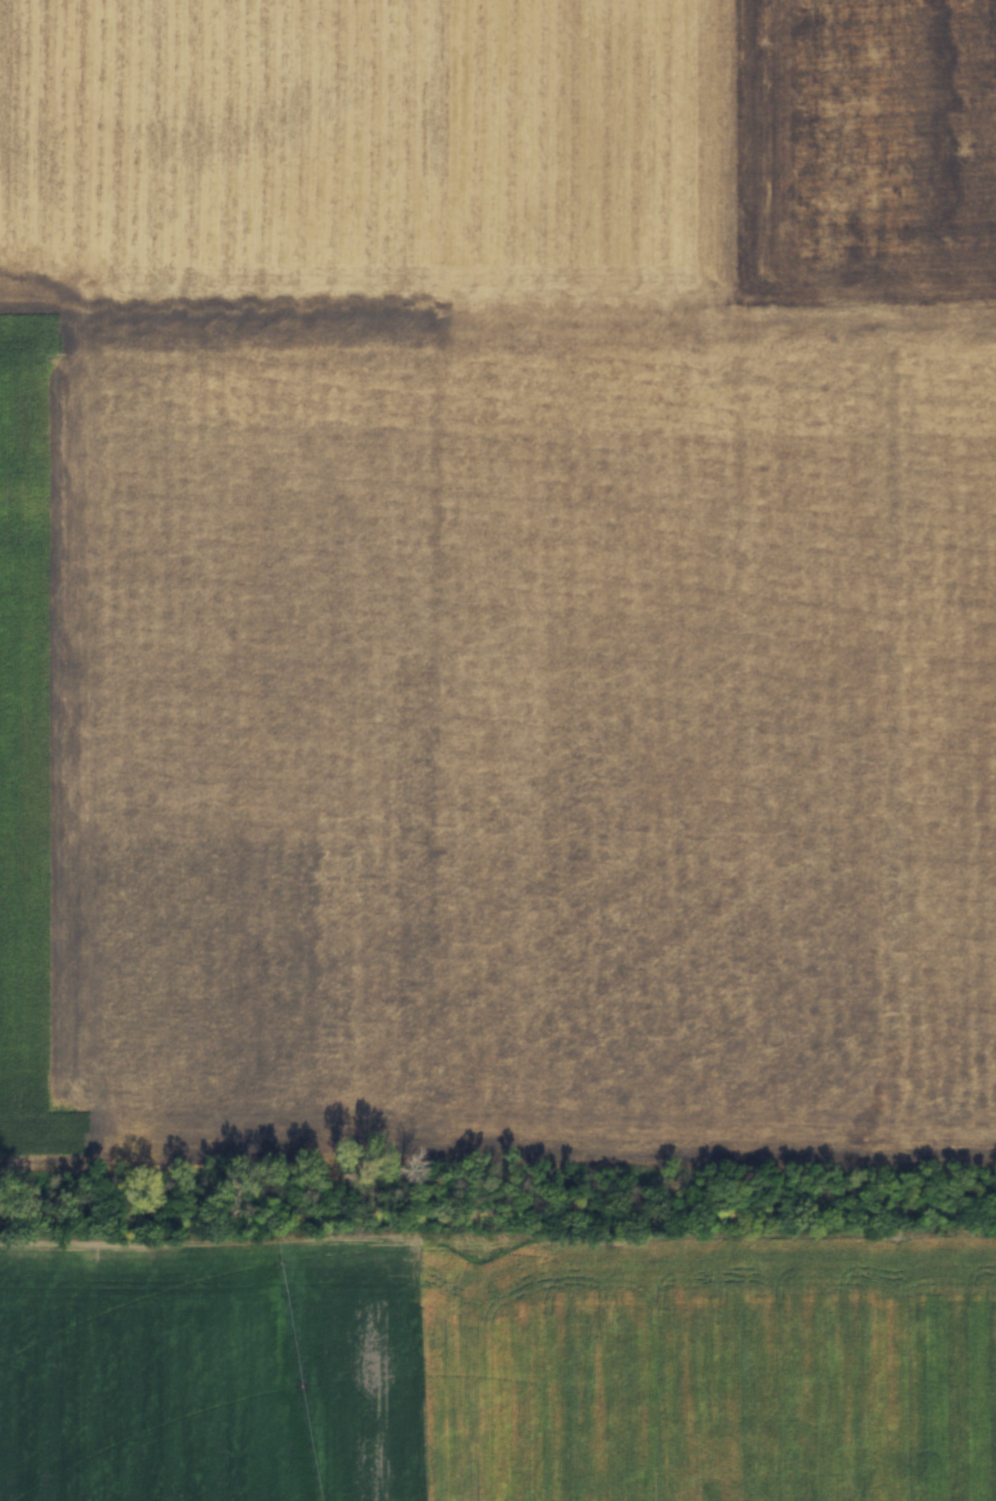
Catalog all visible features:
crop: (501, 1374)

